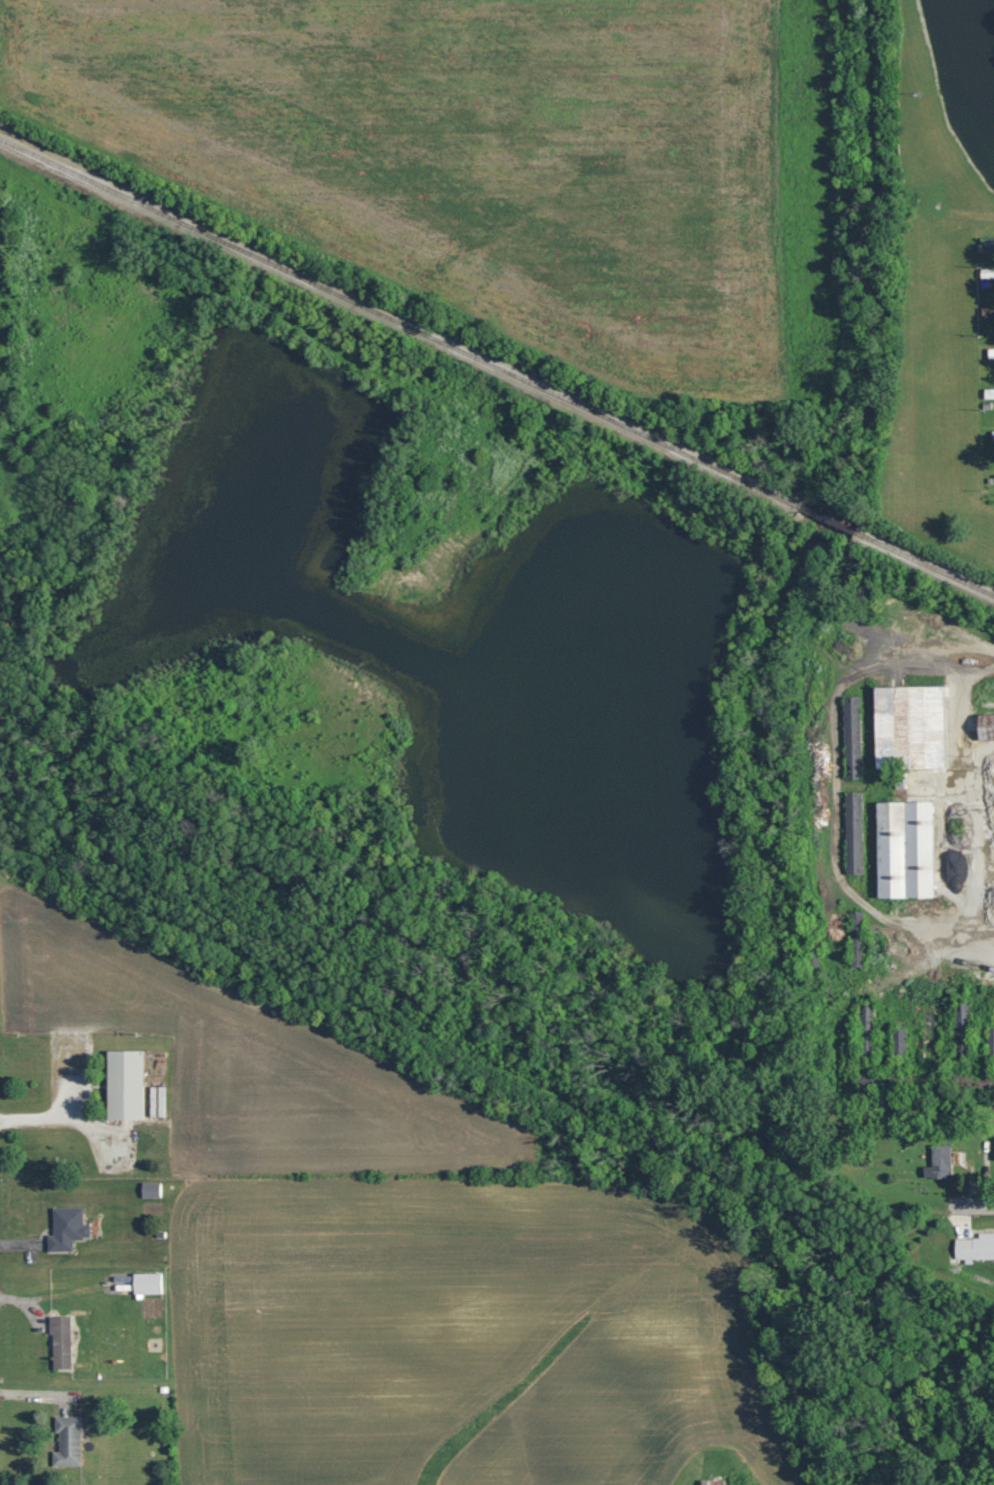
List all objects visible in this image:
building: (986, 273)
building: (990, 351)
railway: (496, 365)
building: (988, 391)
building: (993, 435)
building: (983, 726)
building: (907, 727)
building: (902, 849)
road: (956, 975)
building: (869, 1011)
building: (121, 1085)
building: (937, 1162)
road: (978, 1199)
building: (67, 1231)
building: (983, 1246)
building: (145, 1282)
building: (60, 1341)
building: (65, 1439)
building: (712, 1481)

